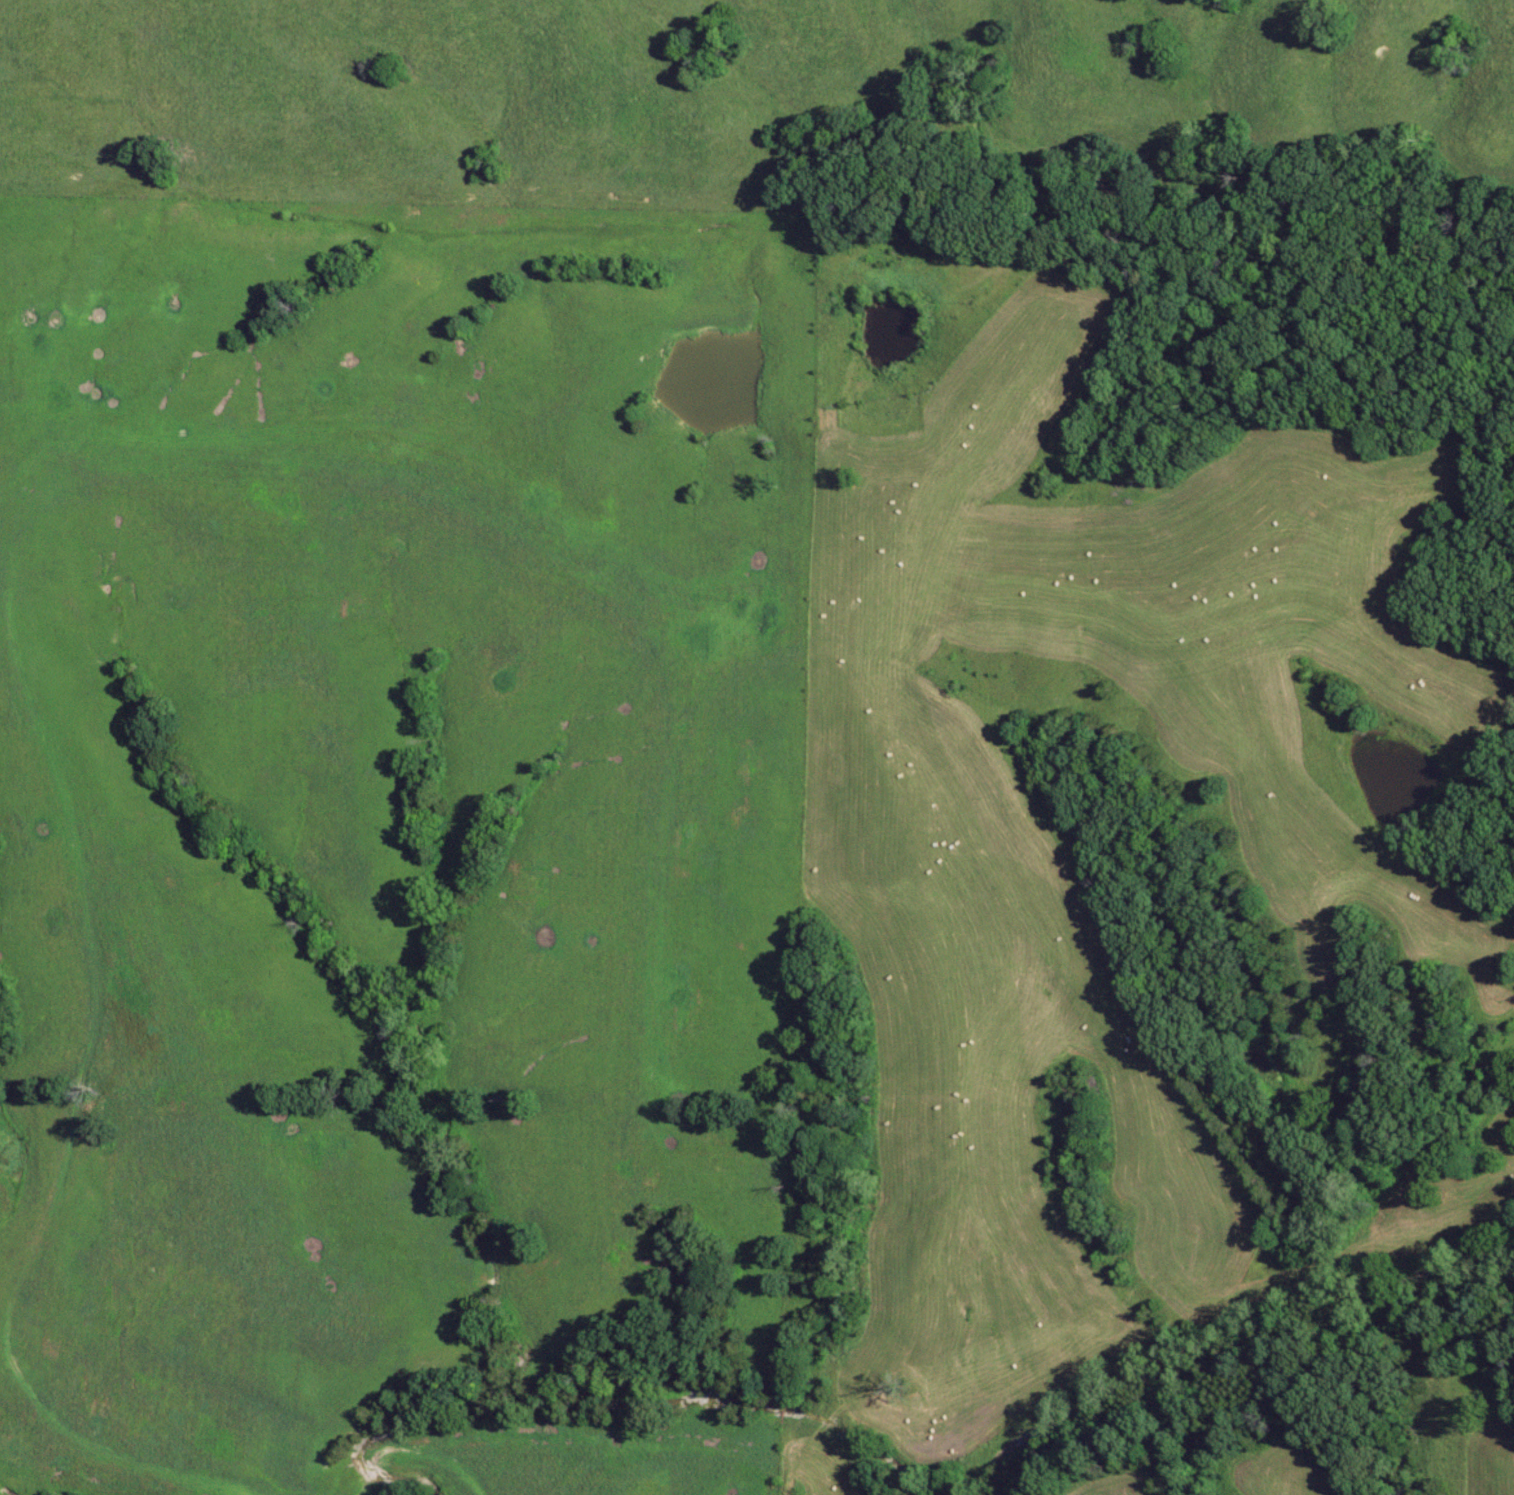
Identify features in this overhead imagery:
road: (929, 1300)
road: (537, 1440)

